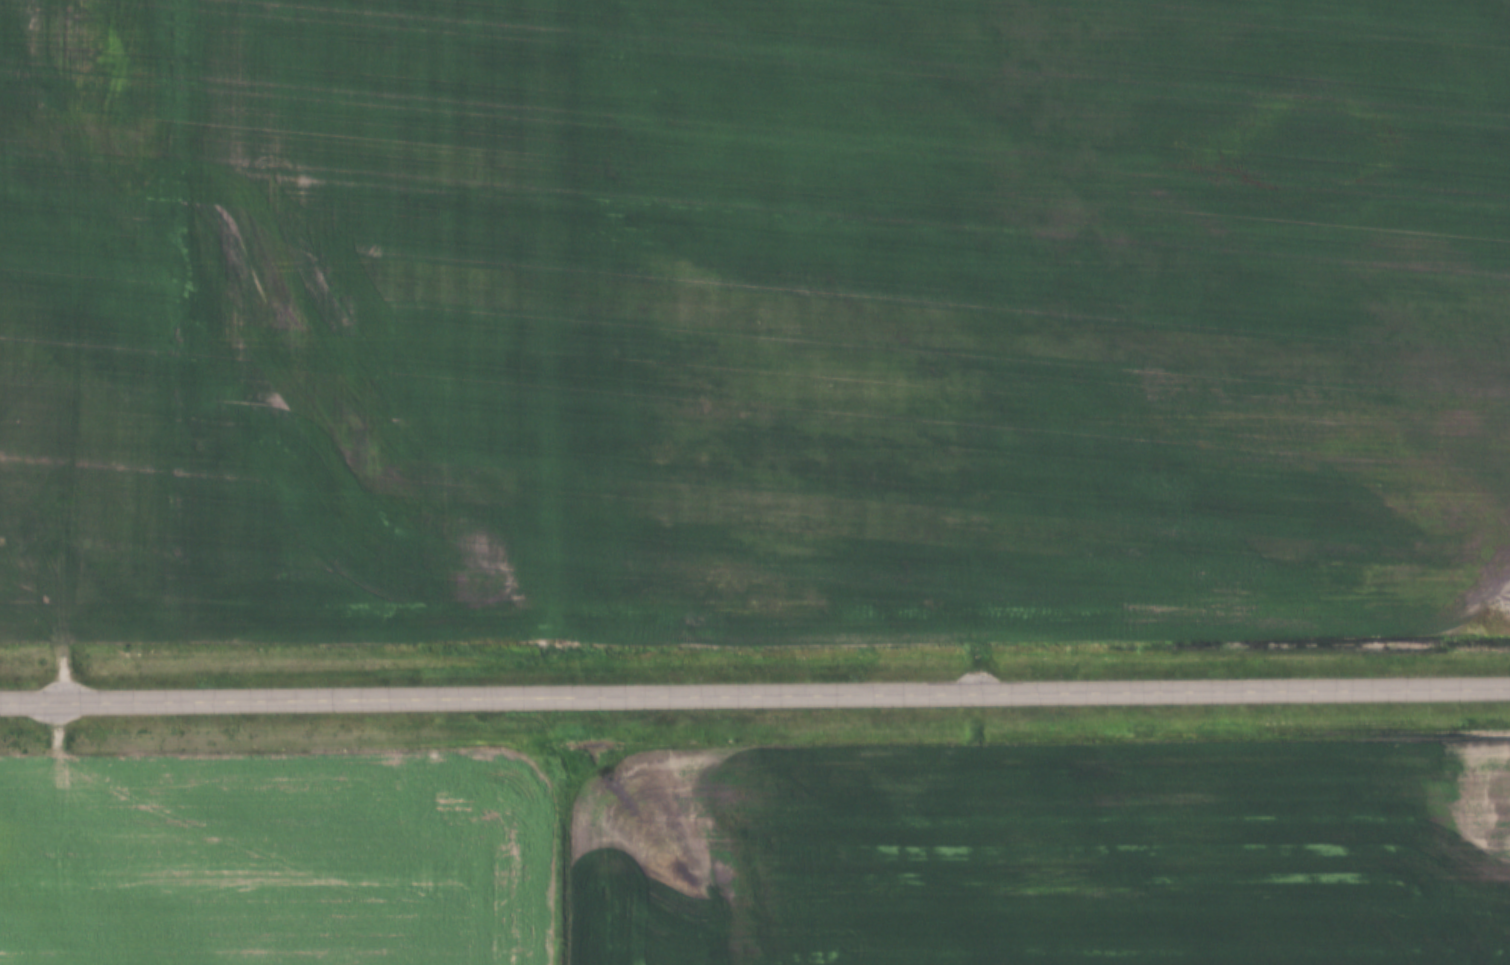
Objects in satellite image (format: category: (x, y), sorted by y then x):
road: (754, 690)

